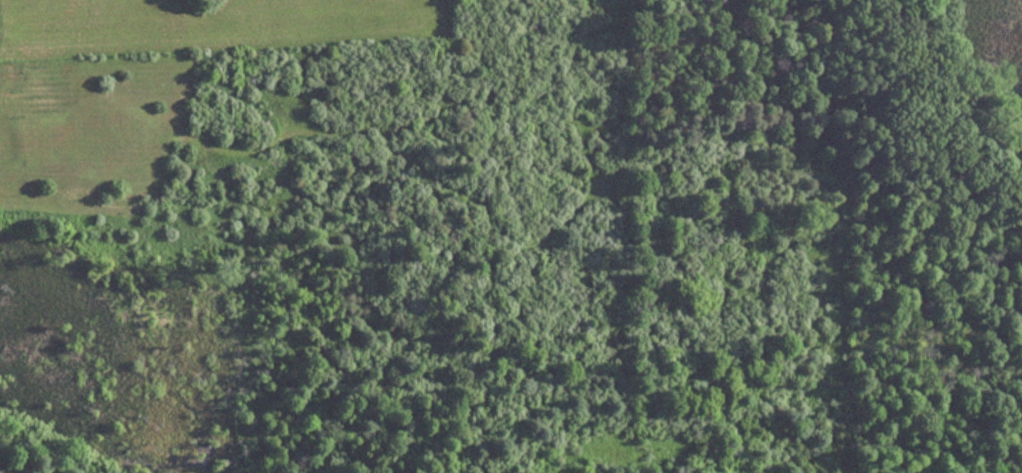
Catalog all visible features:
park: (980, 264)

